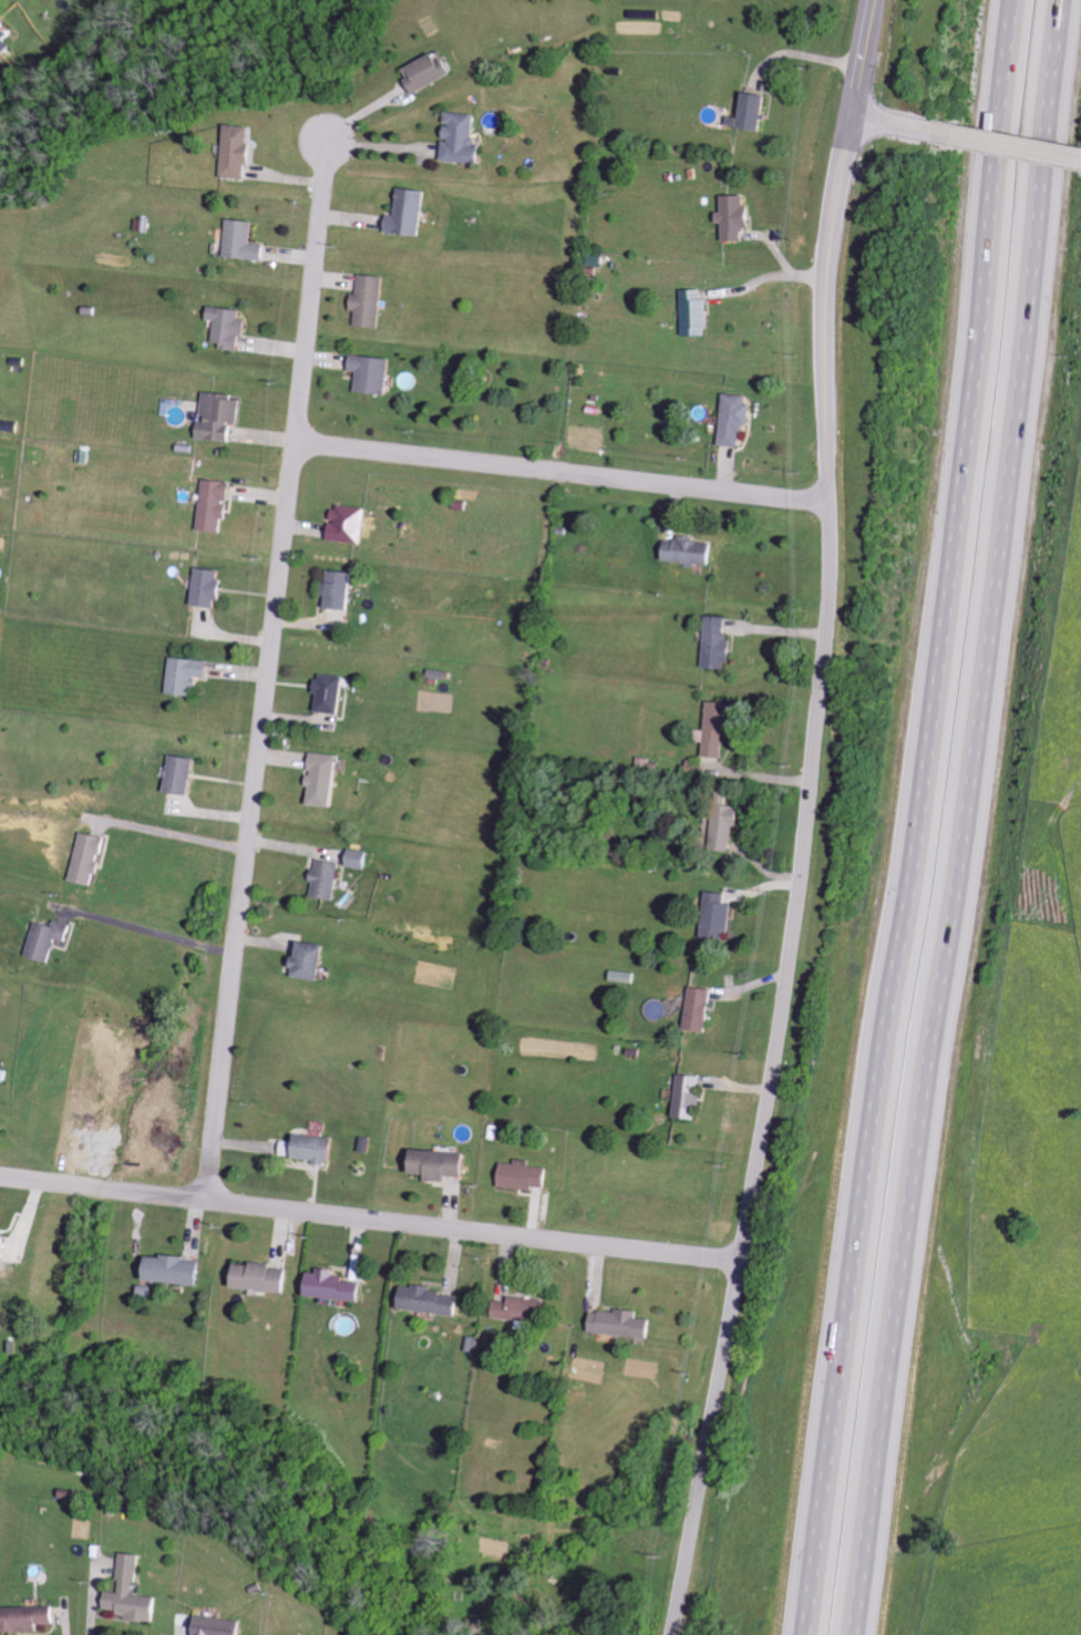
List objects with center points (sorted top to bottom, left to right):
building: (7, 31)
road: (801, 54)
road: (863, 56)
building: (432, 73)
building: (756, 112)
road: (896, 123)
building: (466, 138)
road: (1010, 145)
building: (241, 151)
building: (411, 213)
building: (738, 218)
building: (246, 240)
road: (770, 279)
building: (371, 301)
building: (698, 313)
building: (231, 328)
building: (374, 373)
building: (223, 418)
building: (737, 420)
road: (562, 472)
building: (218, 505)
building: (352, 525)
building: (691, 551)
building: (213, 588)
building: (346, 590)
building: (720, 642)
road: (270, 668)
building: (192, 676)
building: (336, 693)
building: (720, 728)
building: (184, 773)
building: (330, 779)
road: (908, 816)
road: (956, 817)
building: (727, 825)
road: (171, 837)
building: (92, 857)
building: (361, 858)
road: (799, 877)
building: (330, 878)
building: (719, 916)
road: (152, 936)
building: (52, 939)
building: (313, 959)
building: (625, 976)
building: (701, 1008)
building: (656, 1009)
building: (691, 1096)
building: (1, 1111)
building: (320, 1148)
building: (442, 1164)
building: (525, 1175)
road: (370, 1220)
building: (6, 1247)
building: (179, 1269)
building: (266, 1277)
building: (338, 1286)
building: (433, 1300)
building: (524, 1308)
building: (625, 1323)
building: (135, 1593)
road: (89, 1607)
building: (29, 1618)
building: (223, 1626)

